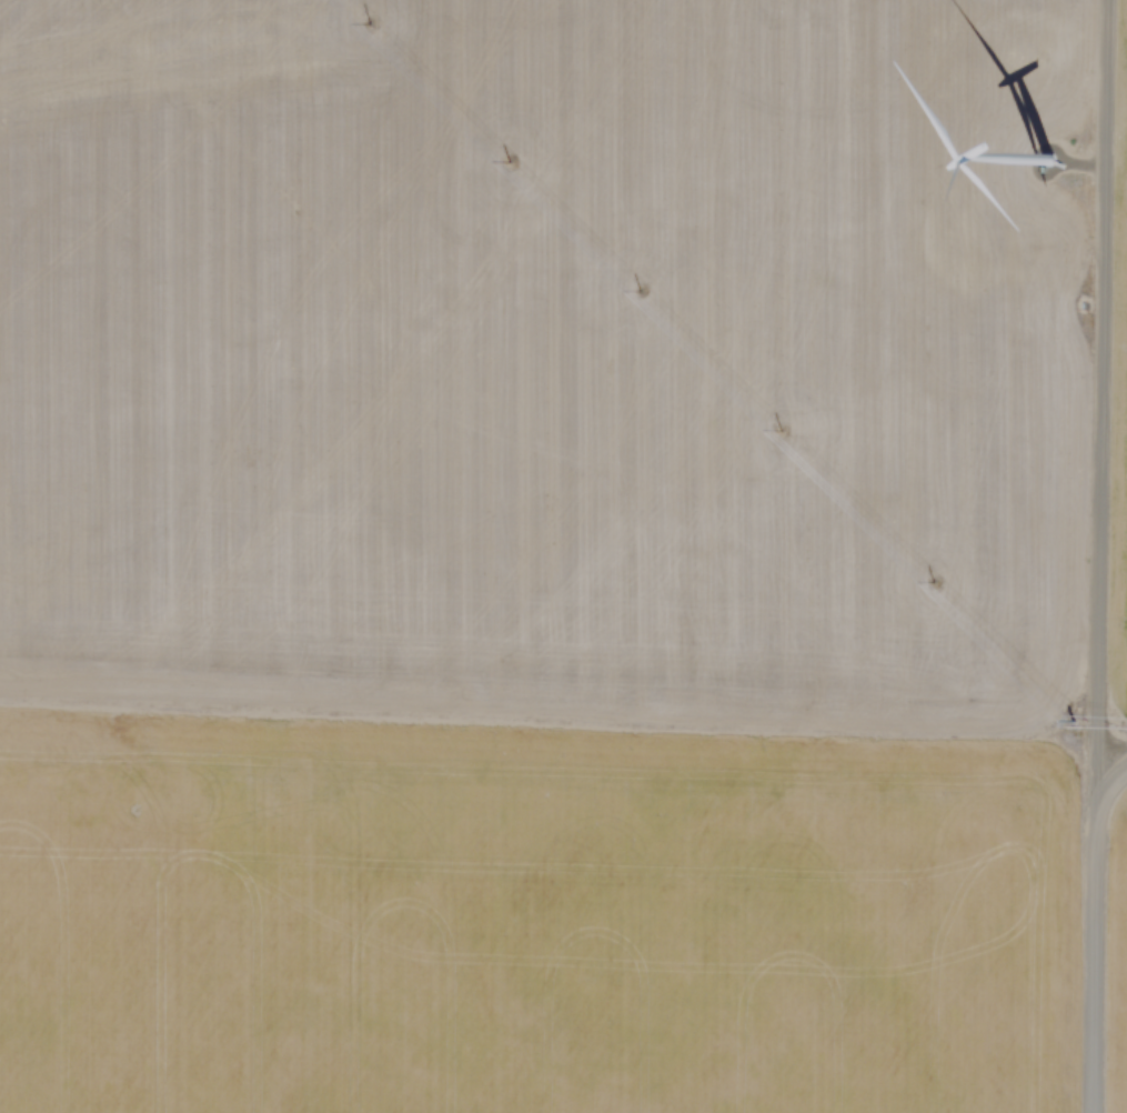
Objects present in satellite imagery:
wind turbine: (1035, 189)
road: (1091, 385)
road: (1086, 924)

